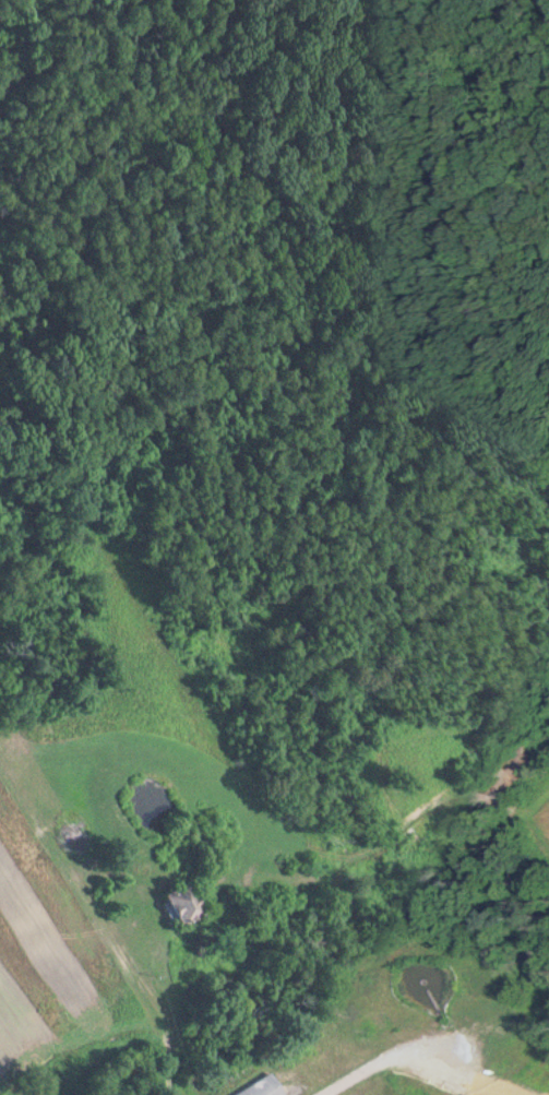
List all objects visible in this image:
crop: (538, 816)
building: (171, 895)
crop: (53, 941)
road: (273, 965)
crop: (403, 1029)
road: (485, 1049)
road: (357, 1071)
building: (252, 1083)

